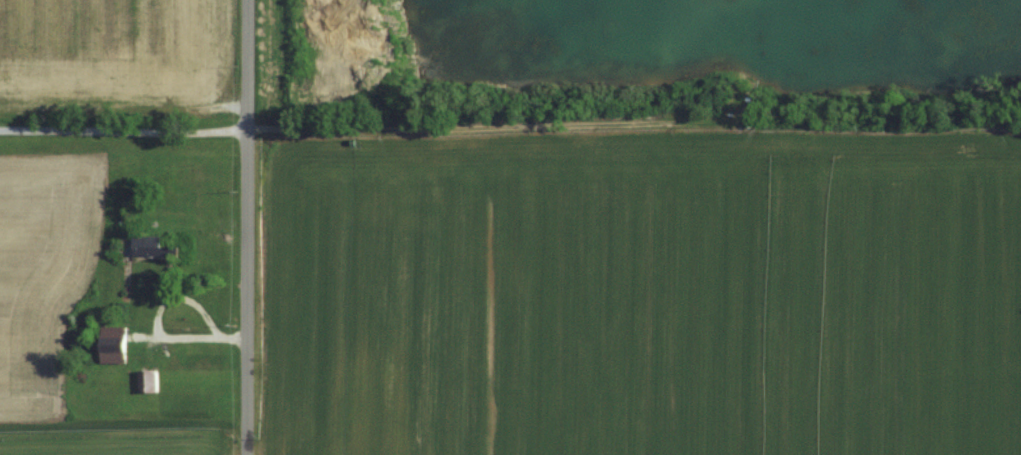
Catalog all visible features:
crop: (116, 58)
quarry: (641, 60)
road: (124, 129)
road: (248, 227)
building: (150, 247)
crop: (646, 297)
road: (156, 324)
building: (112, 344)
building: (146, 381)

